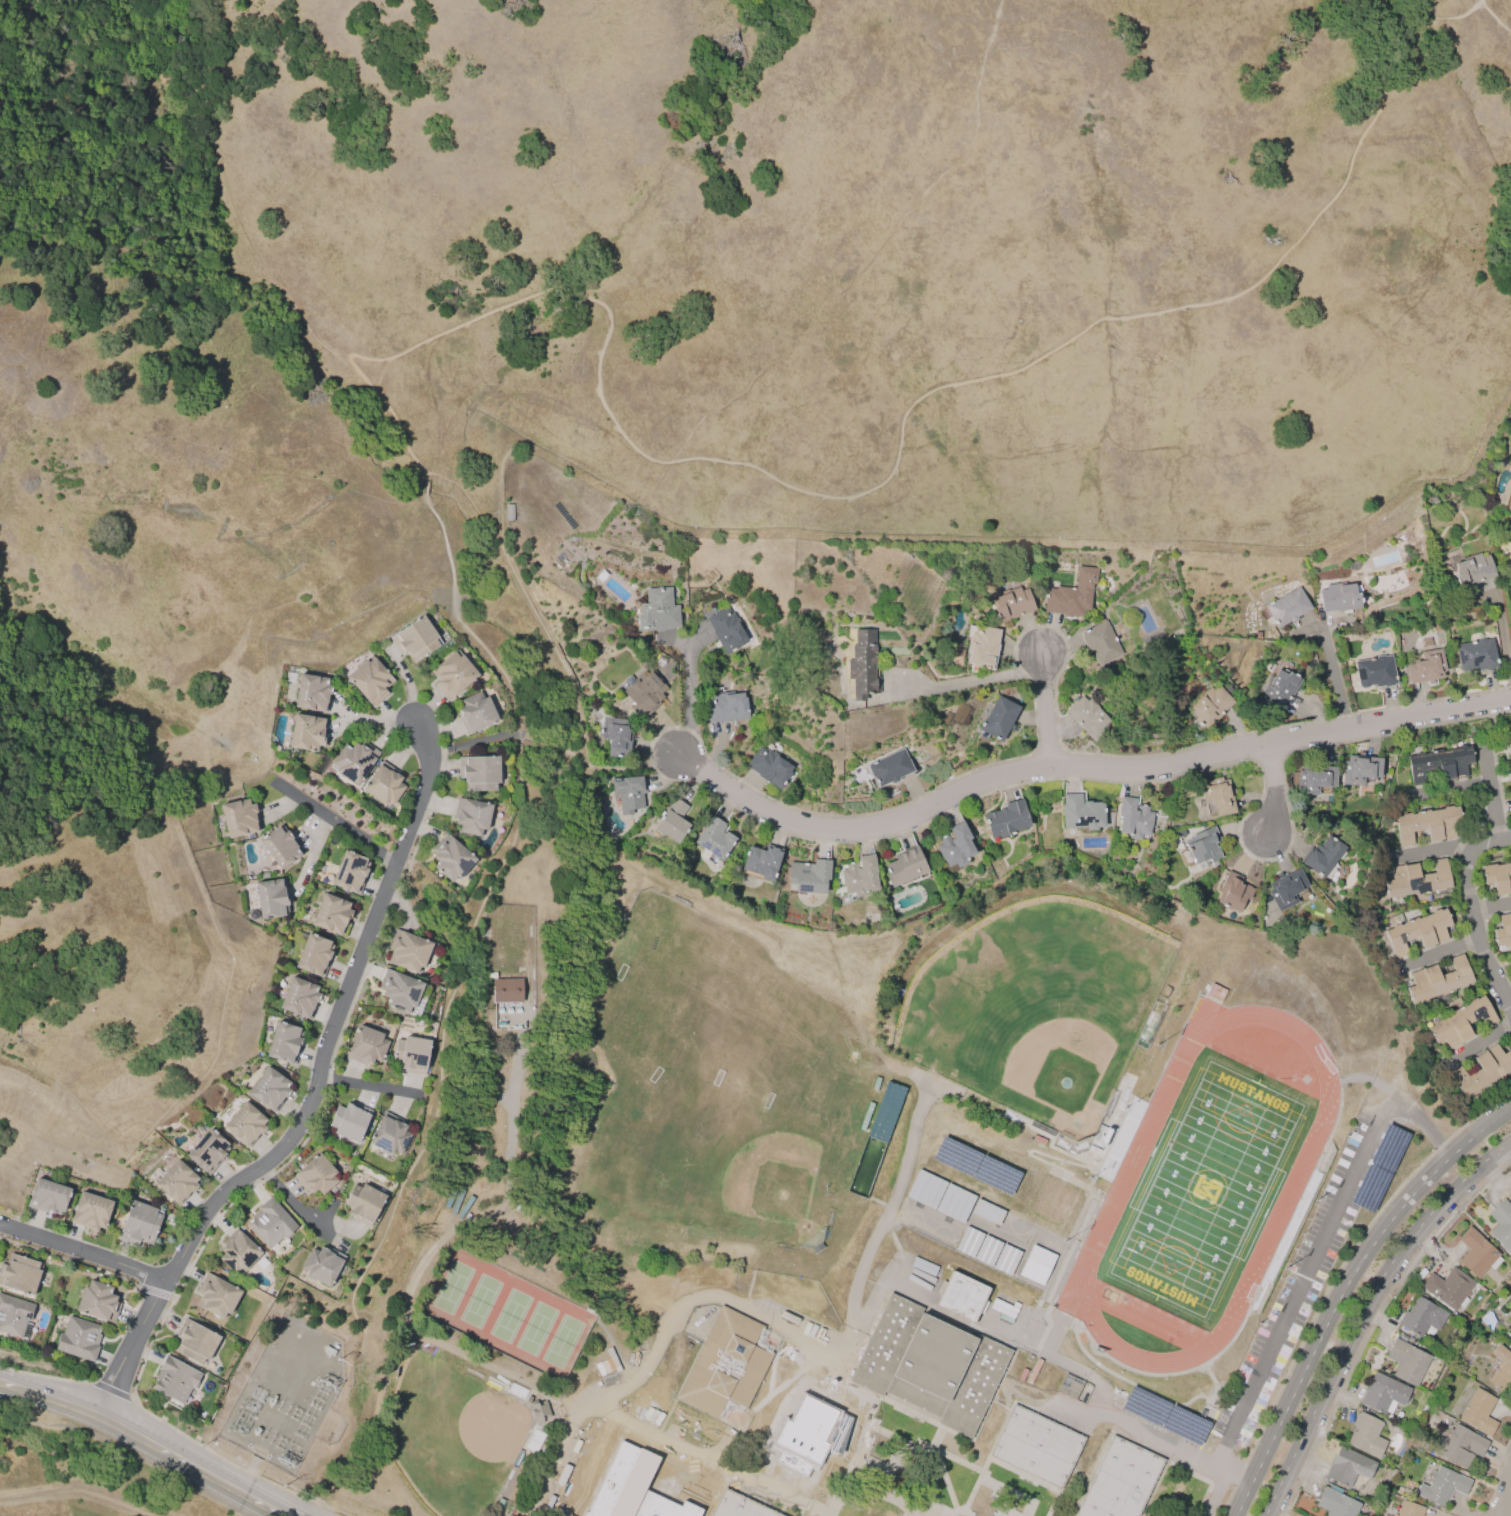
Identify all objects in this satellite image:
road: (1494, 19)
road: (483, 316)
building: (1506, 543)
building: (1471, 571)
building: (1071, 594)
building: (1339, 597)
building: (1012, 604)
building: (1287, 607)
building: (657, 610)
road: (1503, 619)
building: (726, 629)
road: (1326, 629)
building: (414, 639)
building: (1100, 643)
building: (982, 647)
building: (1475, 655)
building: (862, 666)
building: (1425, 667)
building: (1374, 672)
building: (452, 675)
building: (369, 680)
road: (967, 682)
building: (1279, 689)
building: (311, 693)
building: (644, 693)
road: (691, 698)
building: (1210, 705)
building: (725, 707)
road: (1046, 709)
building: (474, 712)
building: (1087, 717)
building: (998, 719)
building: (306, 733)
building: (616, 736)
building: (1508, 744)
building: (354, 761)
building: (1440, 764)
road: (1083, 766)
building: (768, 767)
building: (889, 767)
building: (1510, 768)
building: (1359, 769)
building: (478, 773)
building: (1314, 779)
building: (383, 784)
road: (1272, 787)
road: (1453, 788)
building: (630, 793)
road: (1490, 793)
building: (1217, 795)
building: (1081, 813)
building: (471, 815)
building: (239, 817)
building: (1133, 818)
building: (1006, 819)
road: (335, 820)
building: (672, 820)
building: (1428, 824)
building: (713, 838)
building: (279, 846)
building: (954, 846)
building: (1203, 846)
road: (1430, 850)
building: (1322, 856)
building: (450, 858)
building: (761, 861)
building: (904, 866)
building: (350, 872)
building: (809, 875)
building: (859, 877)
building: (1498, 877)
building: (1417, 879)
building: (1285, 889)
building: (1232, 892)
building: (272, 898)
road: (1490, 907)
road: (1470, 911)
building: (332, 915)
building: (1417, 931)
building: (1502, 931)
building: (407, 951)
road: (1437, 954)
building: (314, 955)
building: (1438, 979)
building: (399, 990)
building: (506, 990)
building: (299, 998)
park: (1034, 1003)
building: (1460, 1022)
road: (1478, 1042)
building: (284, 1043)
building: (366, 1045)
building: (411, 1054)
building: (1482, 1071)
road: (367, 1086)
building: (269, 1089)
road: (312, 1098)
park: (678, 1104)
building: (885, 1112)
building: (349, 1121)
building: (245, 1124)
road: (1427, 1127)
building: (389, 1134)
building: (207, 1151)
building: (316, 1176)
building: (176, 1182)
park: (775, 1187)
stadium: (1202, 1188)
park: (1205, 1188)
building: (1510, 1188)
track: (1117, 1192)
building: (47, 1197)
building: (449, 1197)
building: (456, 1202)
road: (294, 1203)
building: (363, 1203)
building: (464, 1207)
building: (90, 1212)
building: (139, 1223)
building: (270, 1223)
building: (1501, 1223)
building: (986, 1250)
road: (82, 1251)
building: (237, 1252)
building: (1477, 1254)
building: (321, 1265)
building: (1040, 1266)
building: (20, 1274)
parking lot: (1303, 1277)
road: (1302, 1278)
building: (1448, 1287)
road: (1343, 1291)
building: (215, 1296)
building: (966, 1298)
building: (97, 1301)
road: (1360, 1309)
building: (14, 1316)
park: (508, 1316)
building: (1420, 1316)
building: (1510, 1334)
building: (78, 1338)
building: (1510, 1340)
building: (194, 1342)
road: (656, 1355)
building: (1406, 1362)
building: (727, 1366)
building: (933, 1366)
building: (1500, 1368)
building: (174, 1379)
power substation: (284, 1393)
building: (1383, 1393)
building: (538, 1411)
building: (1478, 1411)
parking lot: (1125, 1425)
road: (1137, 1430)
building: (1365, 1435)
building: (804, 1436)
road: (940, 1438)
road: (145, 1441)
building: (597, 1442)
road: (663, 1443)
building: (1461, 1445)
building: (1038, 1447)
building: (1348, 1467)
park: (96, 1468)
building: (658, 1473)
road: (1232, 1473)
crop: (82, 1479)
building: (1122, 1481)
building: (1442, 1486)
road: (869, 1490)
road: (783, 1493)
road: (1215, 1493)
road: (1506, 1495)
building: (1337, 1503)
building: (741, 1506)
building: (1409, 1509)
road: (1493, 1510)
road: (936, 1513)

